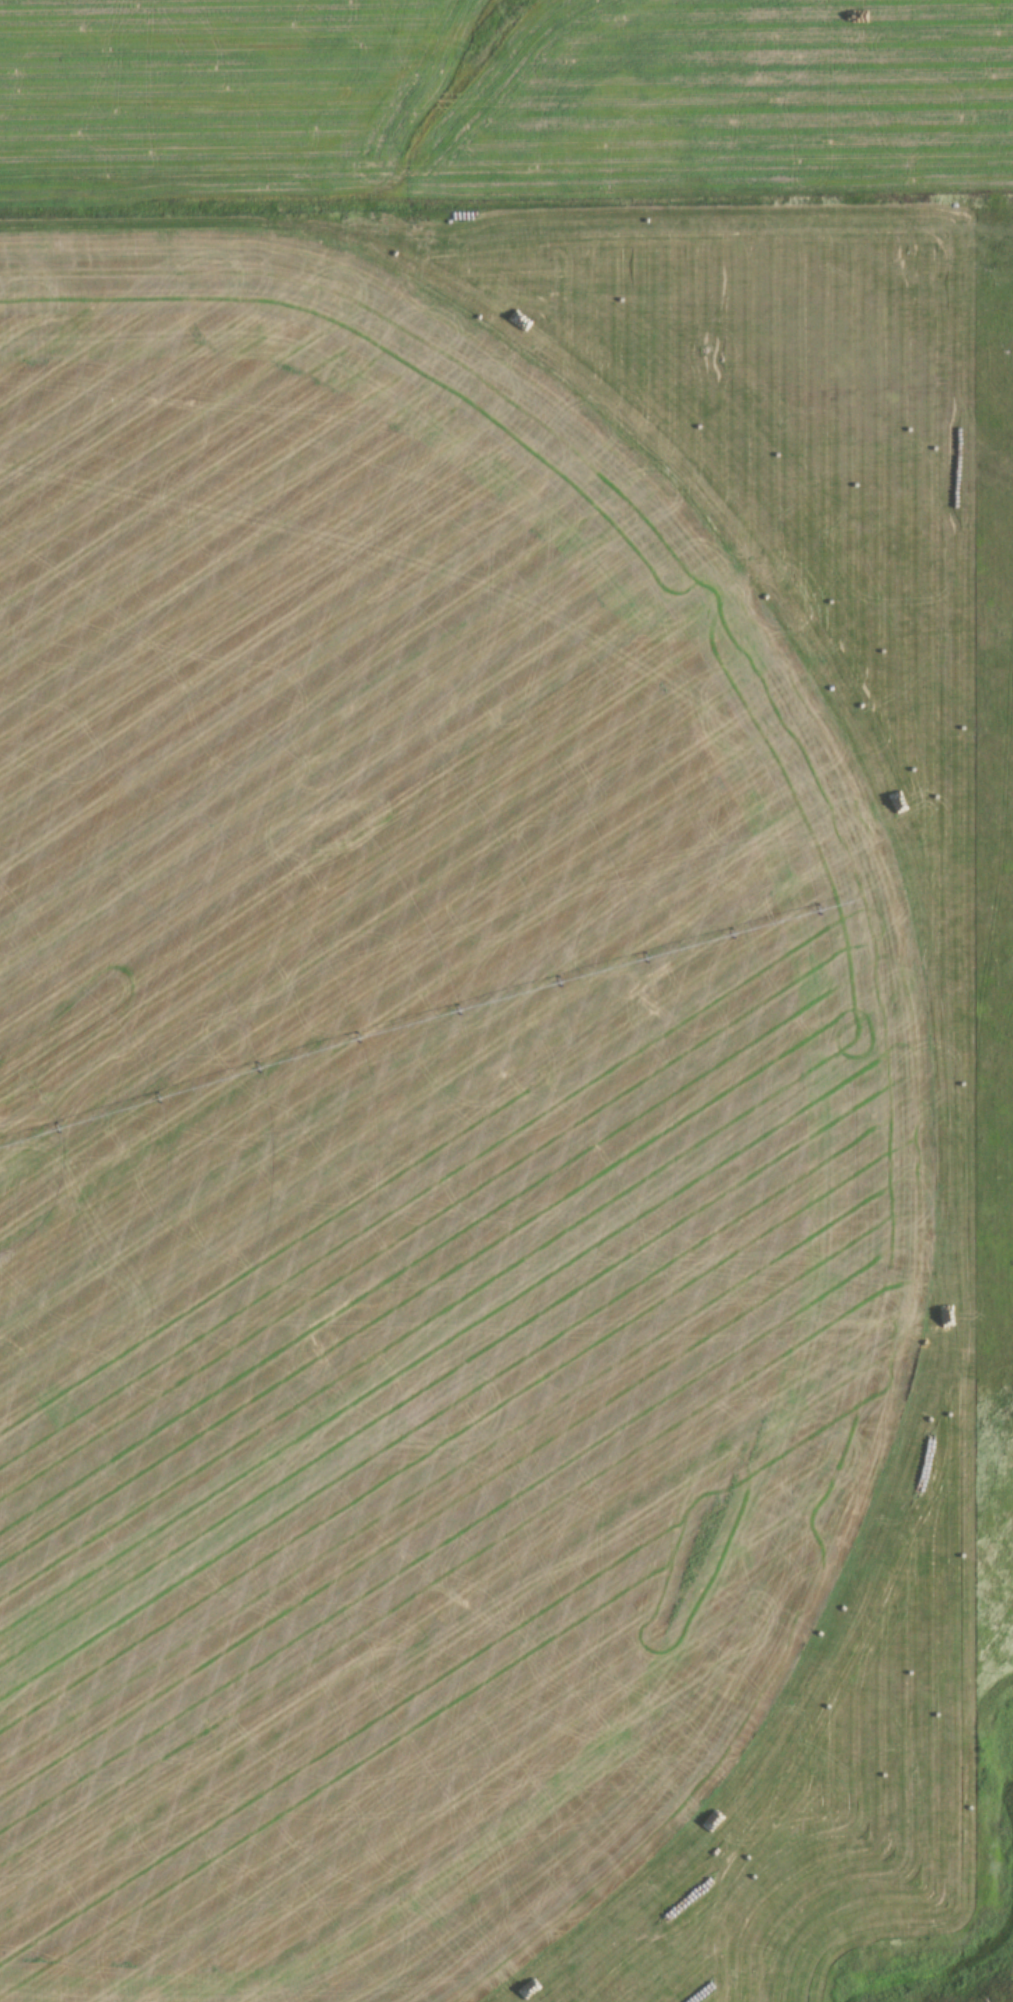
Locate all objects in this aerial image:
building: (173, 61)

